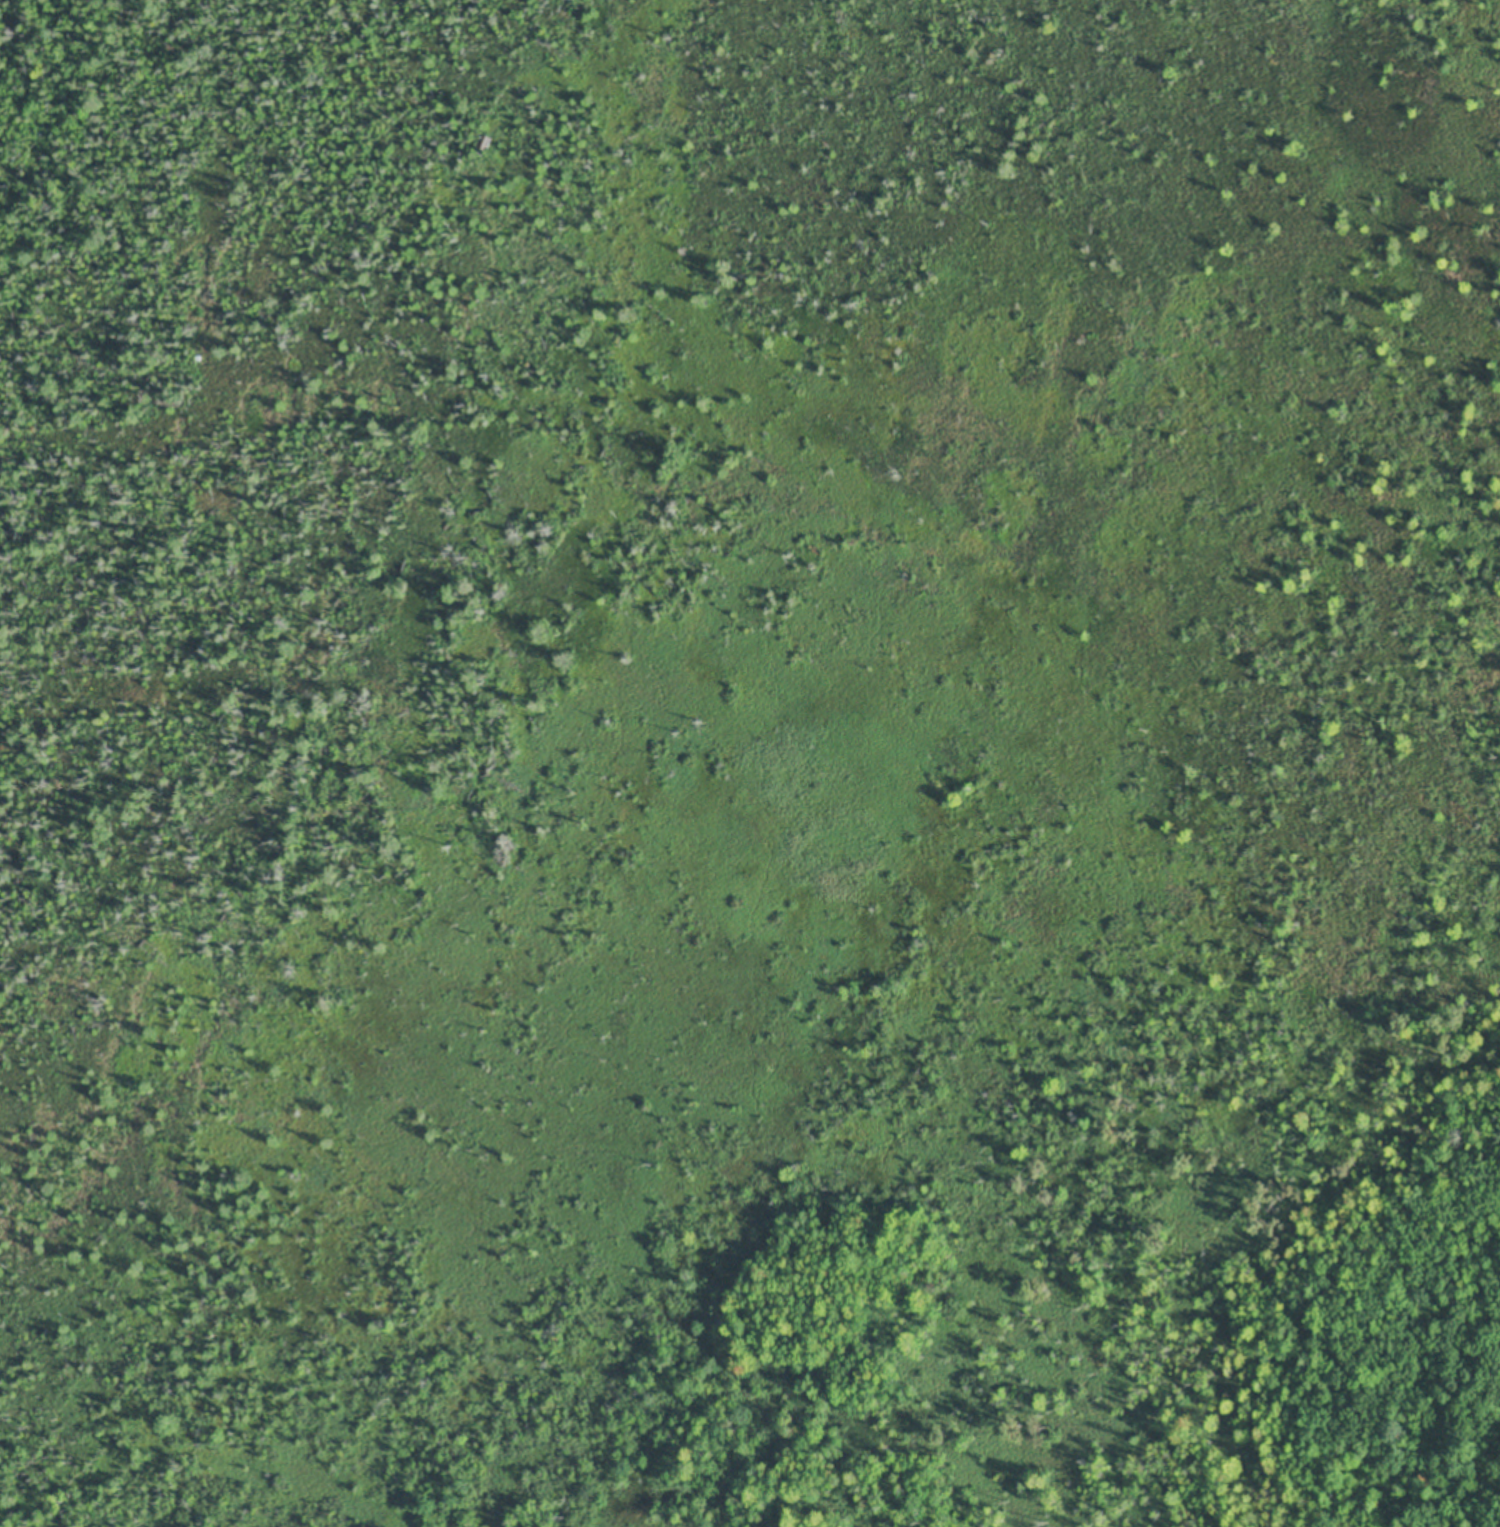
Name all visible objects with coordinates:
building: (486, 144)

